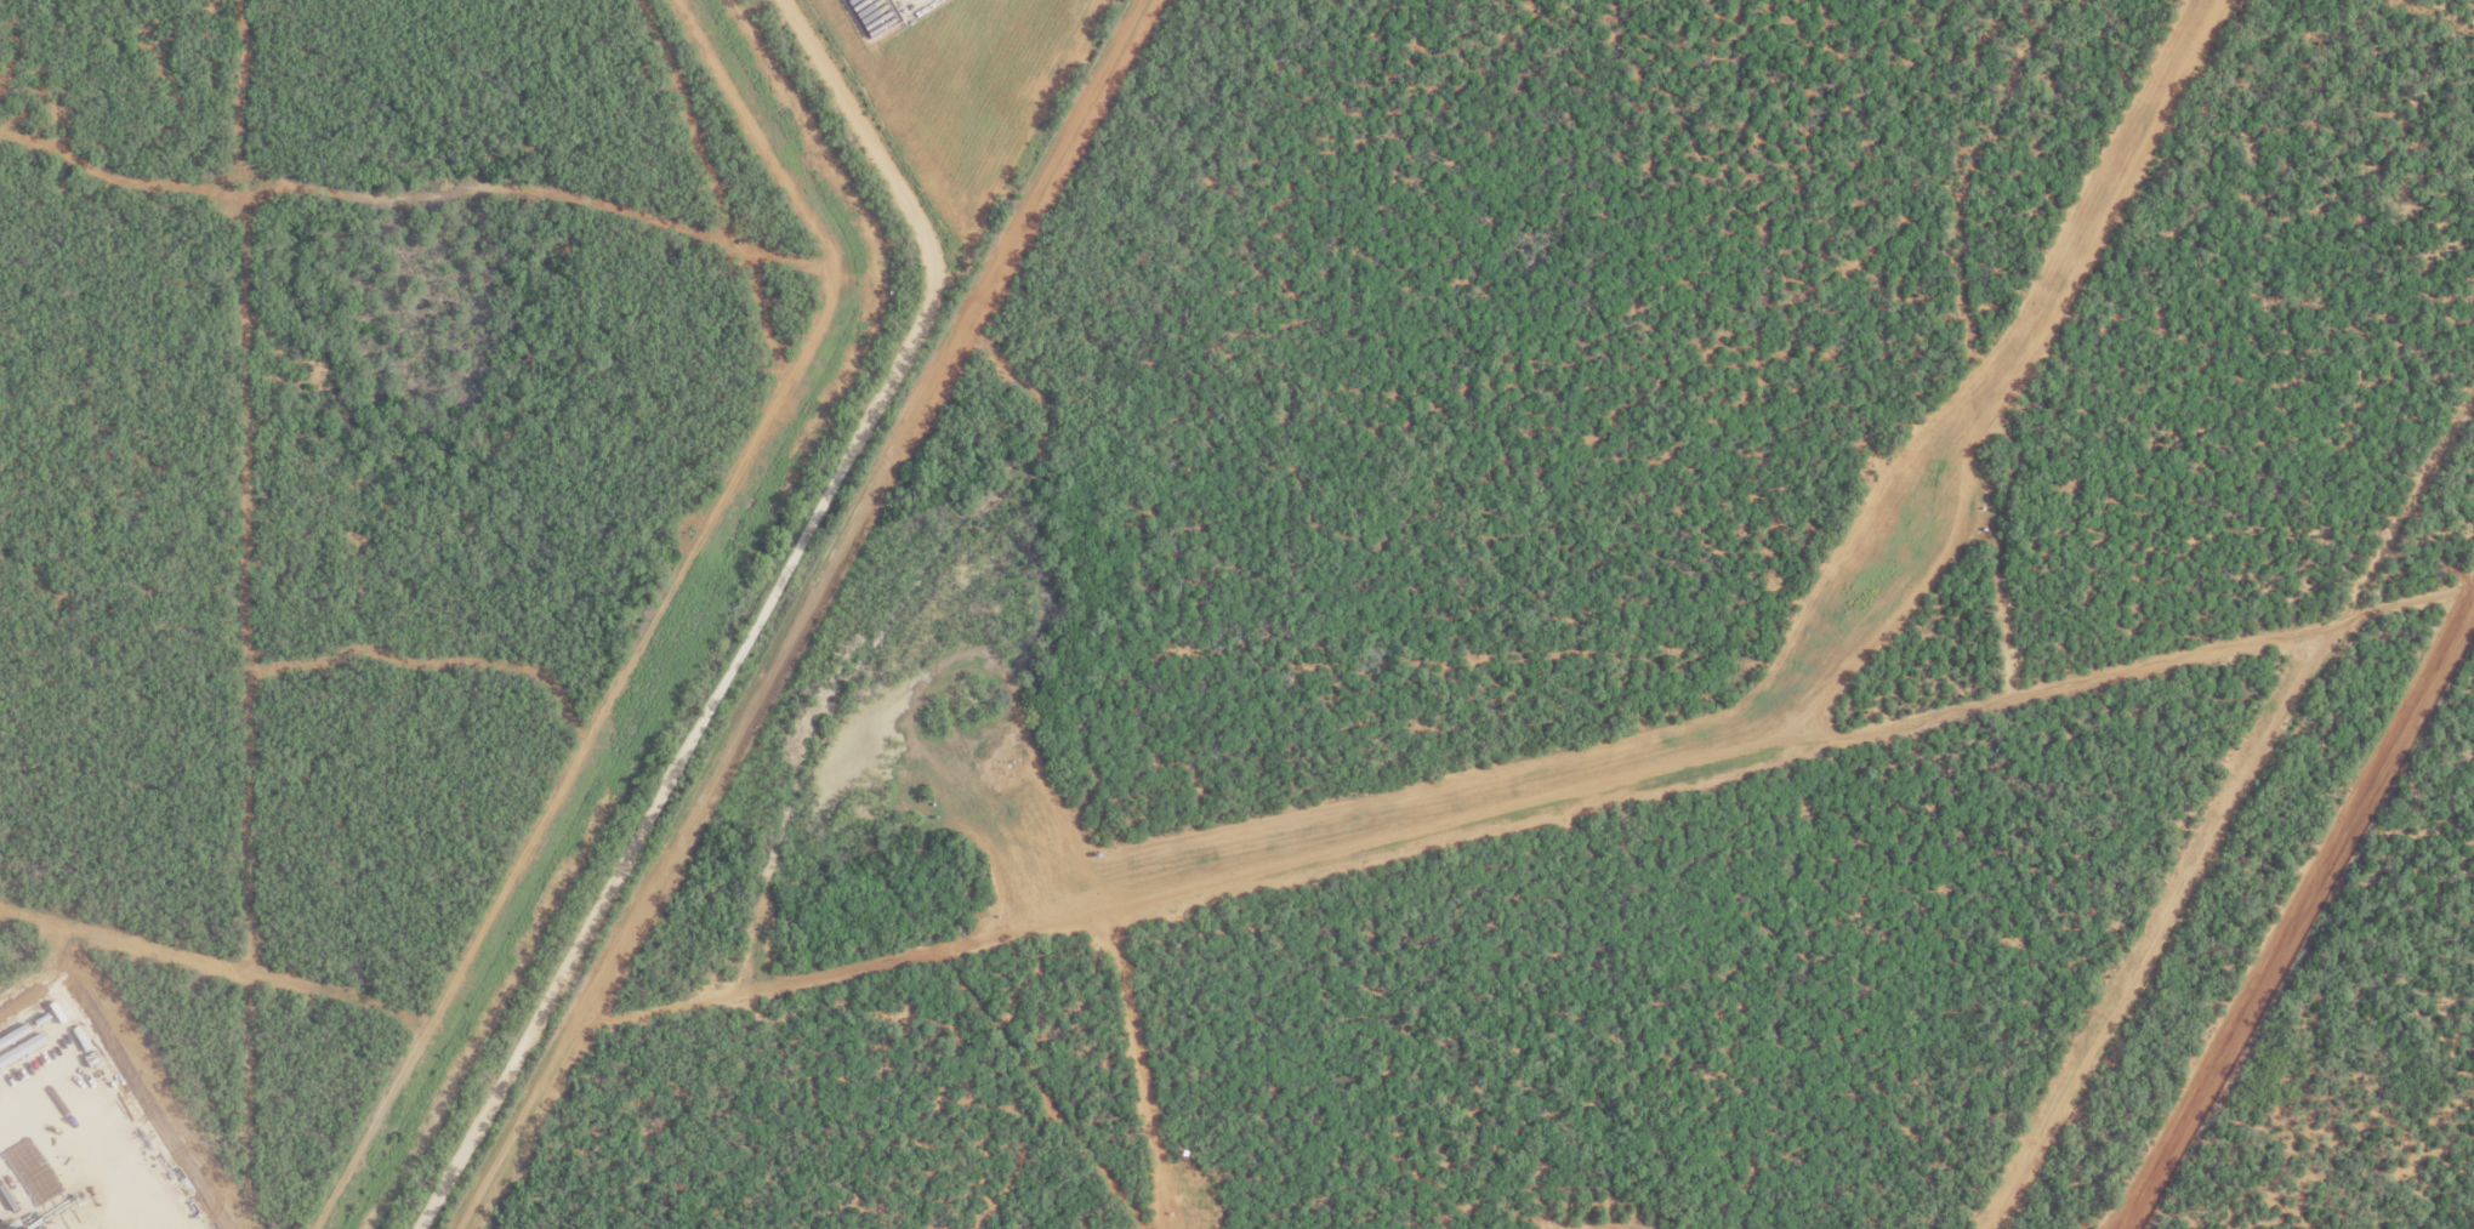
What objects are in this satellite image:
road: (756, 618)

